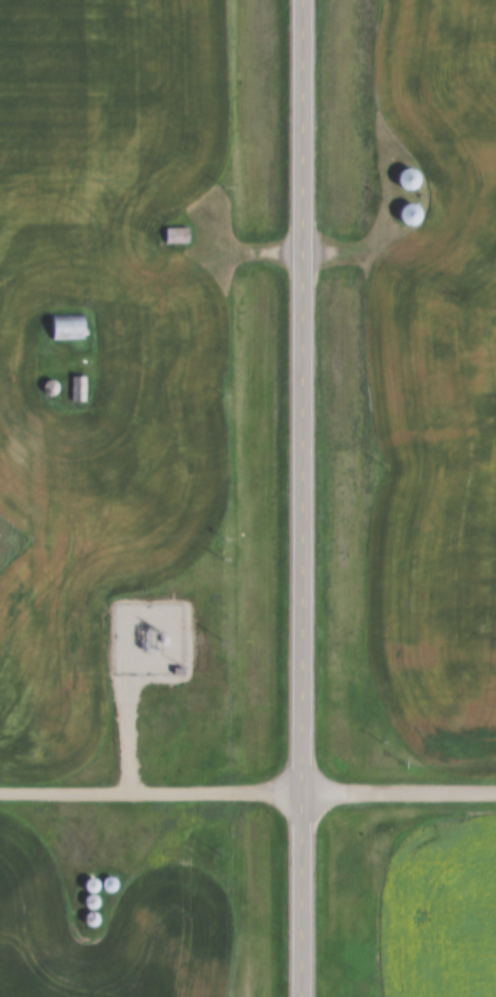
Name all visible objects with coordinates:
building: (410, 179)
building: (412, 215)
building: (178, 235)
building: (70, 326)
building: (80, 388)
road: (297, 498)
power substation: (152, 639)
road: (247, 785)

